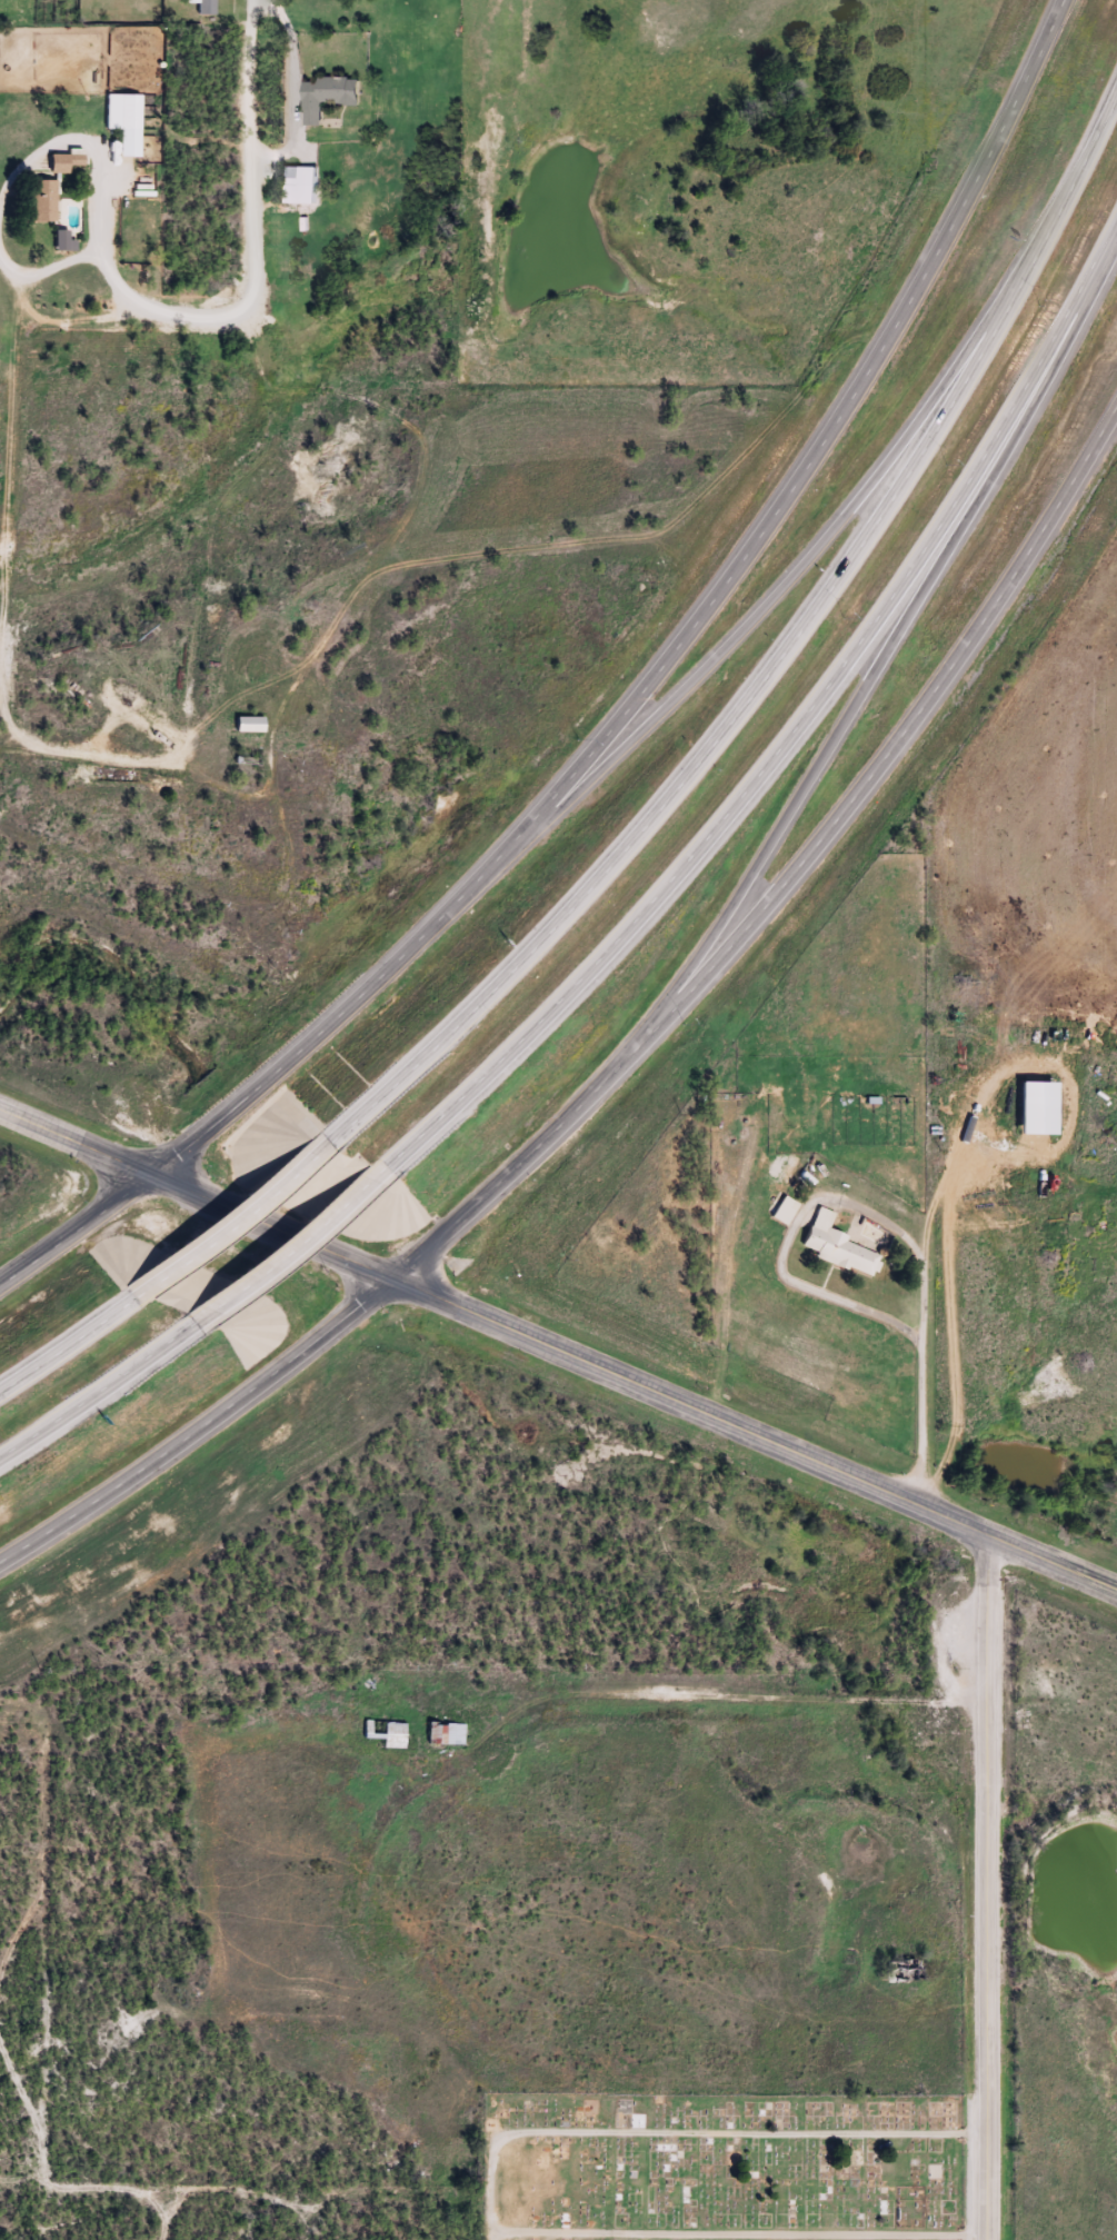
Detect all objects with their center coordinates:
road: (252, 3)
building: (203, 6)
building: (321, 96)
building: (151, 104)
building: (120, 111)
road: (278, 149)
building: (69, 159)
building: (286, 185)
building: (39, 200)
road: (784, 586)
road: (892, 638)
road: (772, 665)
road: (620, 715)
building: (245, 725)
road: (791, 737)
building: (990, 1037)
road: (629, 1054)
building: (957, 1058)
road: (76, 1143)
building: (780, 1209)
road: (226, 1219)
road: (285, 1245)
building: (836, 1246)
road: (73, 1337)
road: (104, 1385)
road: (634, 1385)
road: (730, 1719)
building: (385, 1731)
building: (442, 1733)
road: (991, 1888)
park: (720, 2166)

